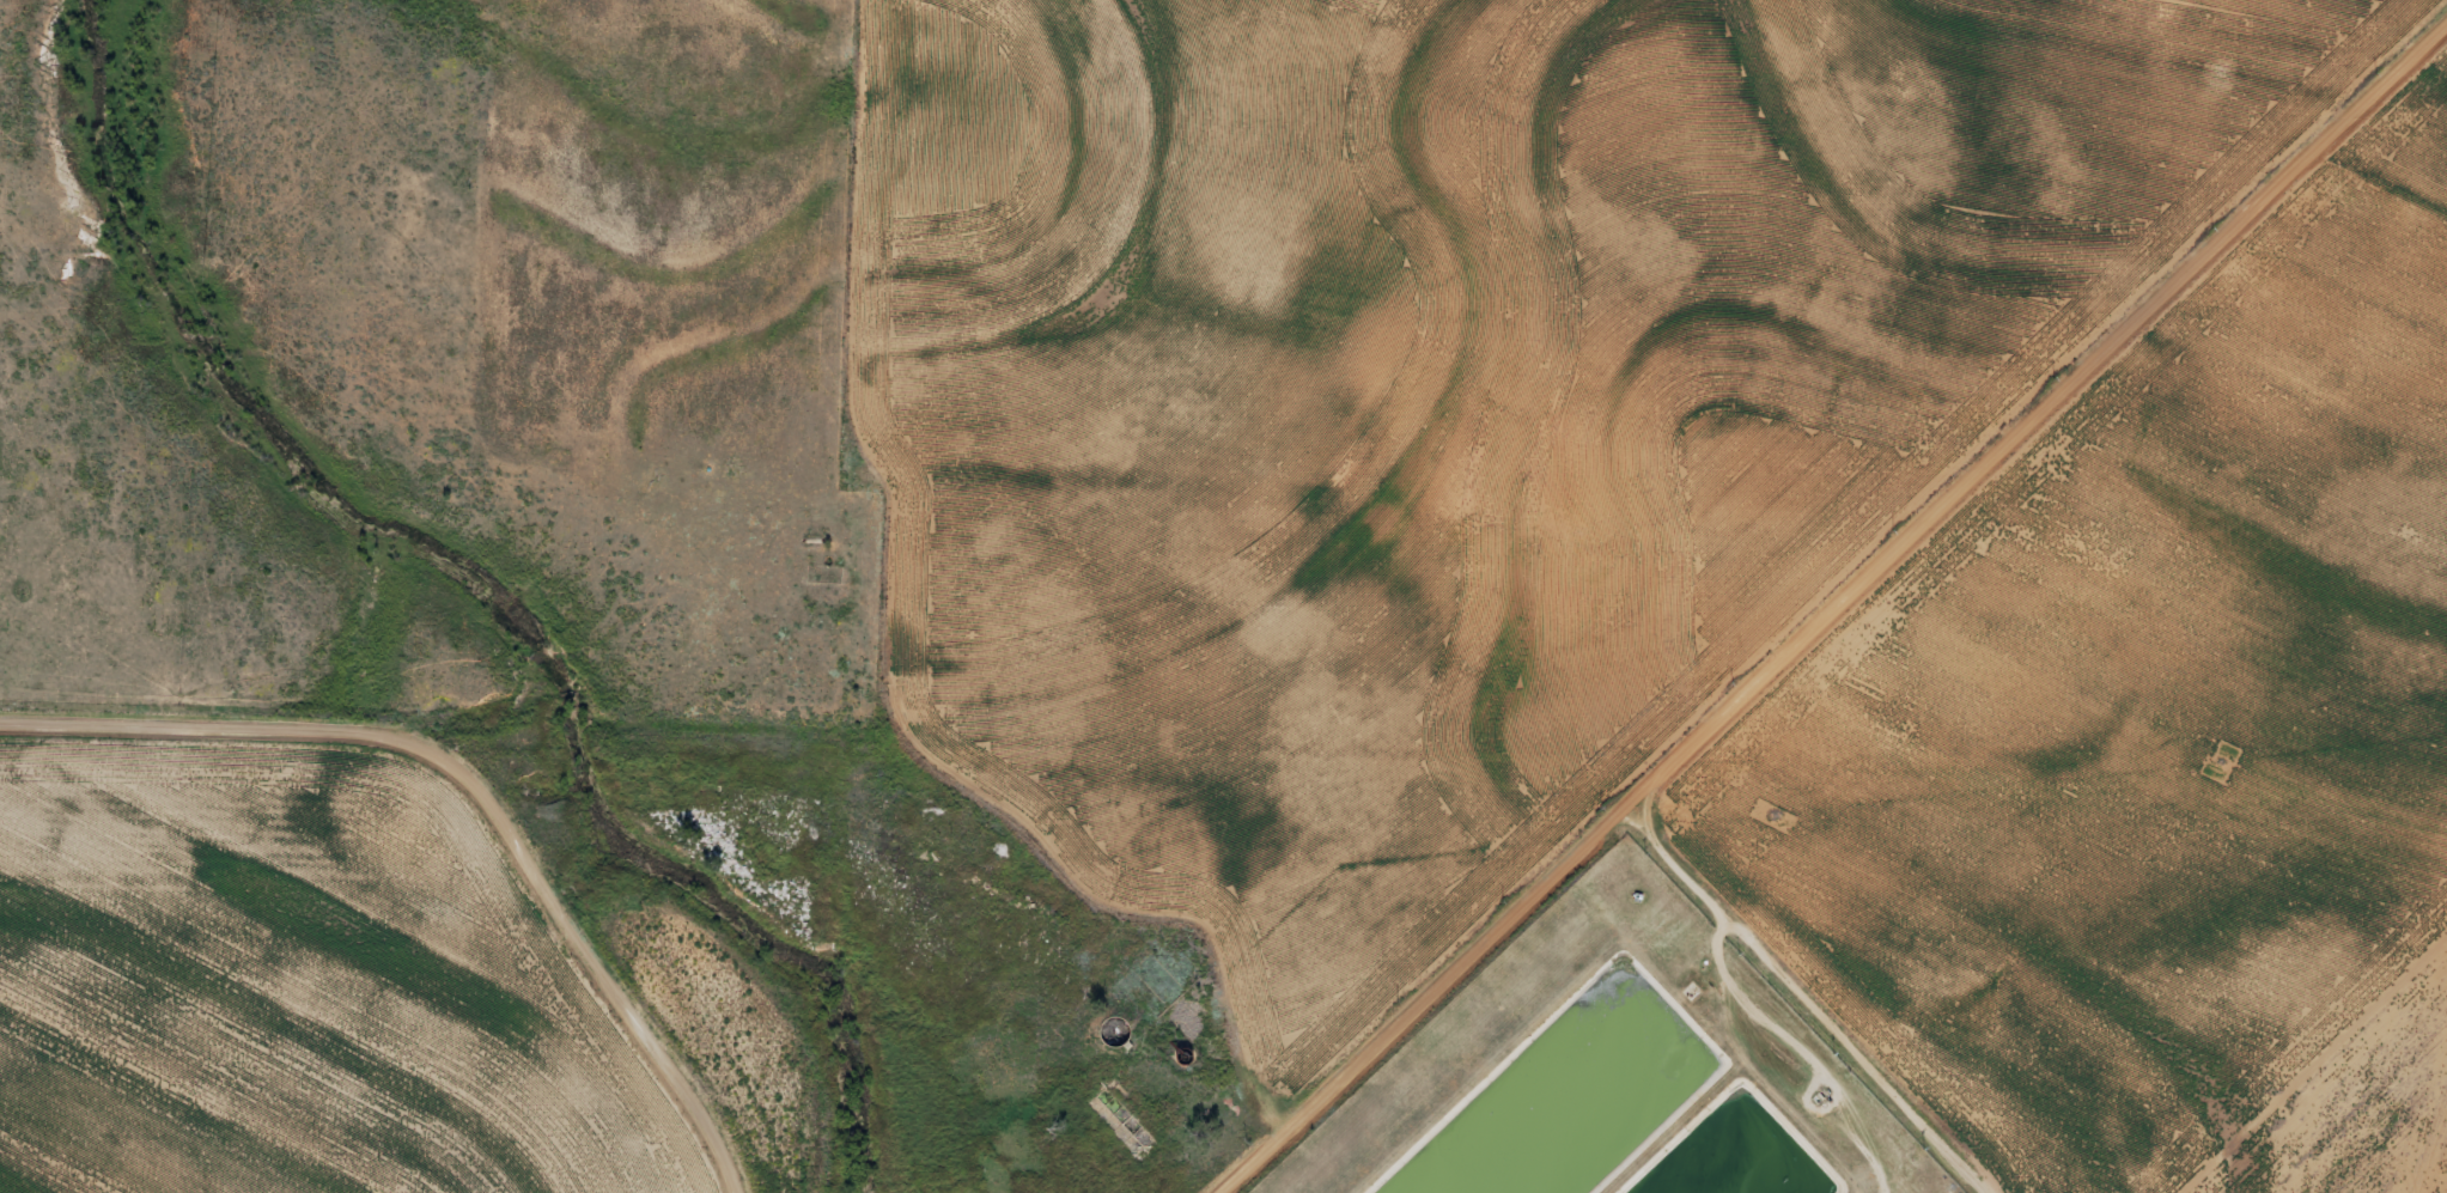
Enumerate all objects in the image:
road: (1827, 607)
road: (475, 781)
airport: (2047, 862)

